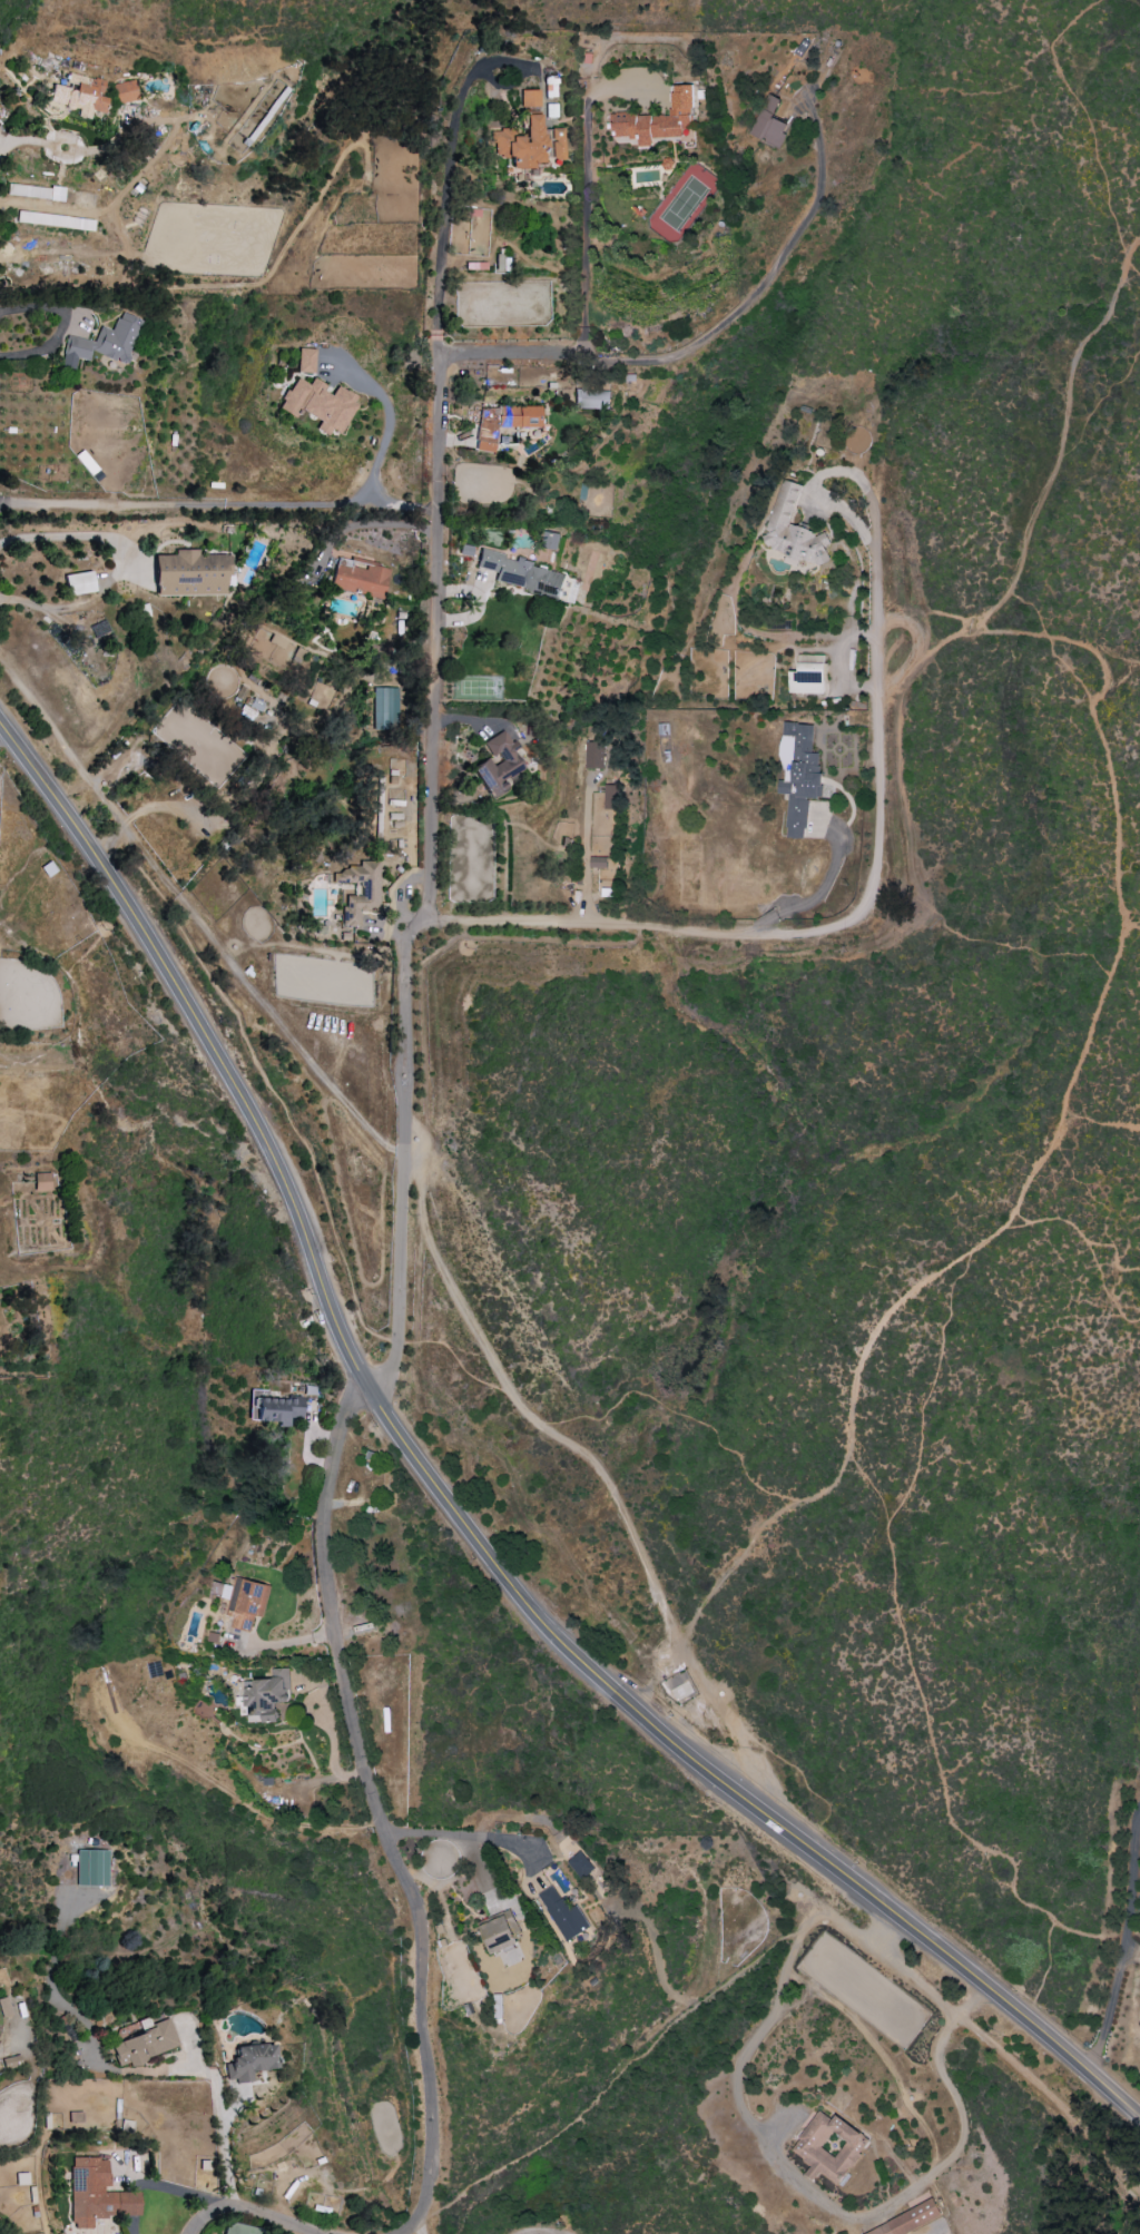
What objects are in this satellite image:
building: (125, 92)
road: (463, 92)
building: (80, 96)
building: (530, 99)
building: (658, 120)
building: (769, 122)
road: (1091, 126)
building: (530, 146)
building: (36, 193)
road: (587, 206)
building: (55, 222)
building: (502, 264)
road: (768, 278)
road: (65, 325)
building: (102, 344)
road: (522, 355)
building: (305, 362)
building: (591, 398)
road: (1097, 401)
building: (320, 405)
road: (392, 416)
road: (220, 509)
building: (793, 530)
building: (550, 540)
road: (122, 565)
building: (522, 574)
building: (190, 575)
building: (360, 579)
building: (79, 584)
road: (925, 610)
building: (277, 642)
road: (1050, 648)
road: (1120, 657)
road: (925, 660)
road: (1122, 673)
building: (807, 675)
building: (385, 710)
building: (592, 755)
building: (500, 766)
building: (798, 775)
road: (431, 793)
building: (610, 797)
building: (598, 862)
road: (875, 876)
building: (360, 892)
road: (818, 893)
road: (194, 918)
road: (1132, 924)
road: (1120, 935)
road: (985, 941)
road: (267, 1082)
road: (1099, 1126)
building: (41, 1183)
road: (1088, 1191)
road: (1081, 1238)
road: (1105, 1291)
road: (468, 1375)
road: (931, 1385)
building: (275, 1408)
road: (679, 1414)
road: (594, 1466)
road: (458, 1512)
building: (245, 1602)
building: (680, 1691)
road: (934, 1745)
road: (777, 1758)
road: (376, 1809)
road: (460, 1837)
building: (581, 1864)
building: (92, 1869)
building: (562, 1913)
building: (498, 1933)
road: (1126, 1953)
road: (1046, 1970)
building: (4, 2009)
road: (9, 2044)
building: (145, 2046)
building: (249, 2063)
road: (209, 2074)
road: (1039, 2085)
road: (235, 2108)
building: (76, 2120)
building: (828, 2147)
road: (226, 2169)
building: (97, 2195)
road: (250, 2214)
road: (853, 2218)
building: (907, 2221)
road: (420, 2228)
road: (532, 2232)

